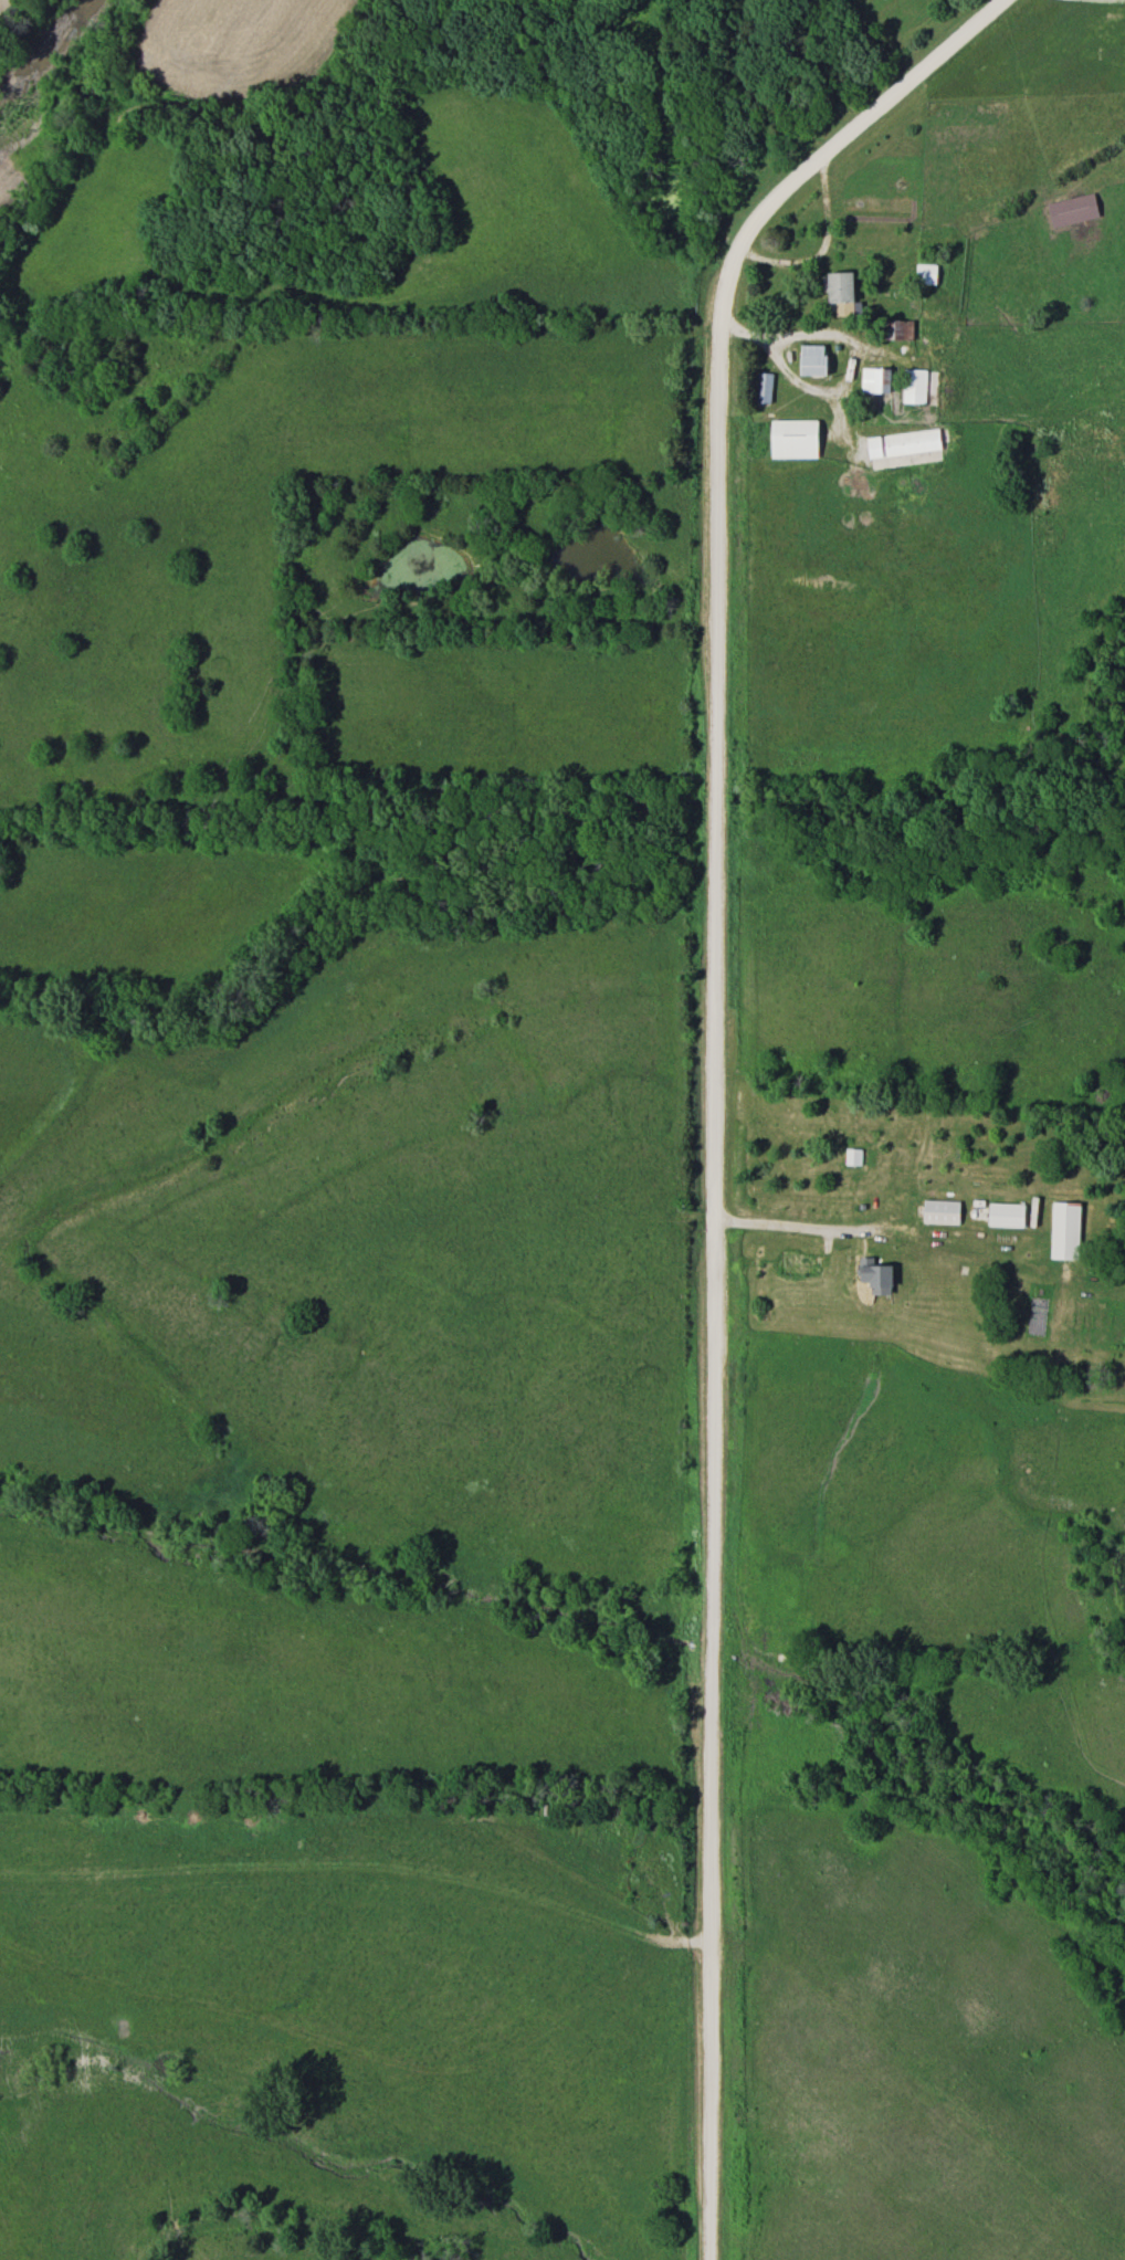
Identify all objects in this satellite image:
building: (1071, 211)
road: (827, 252)
building: (923, 275)
building: (838, 293)
road: (788, 338)
building: (809, 360)
building: (865, 380)
building: (882, 381)
building: (761, 383)
building: (912, 387)
building: (790, 439)
building: (901, 444)
road: (714, 1069)
building: (851, 1157)
building: (938, 1212)
building: (1003, 1215)
road: (780, 1223)
building: (1062, 1230)
building: (795, 1263)
building: (873, 1276)

